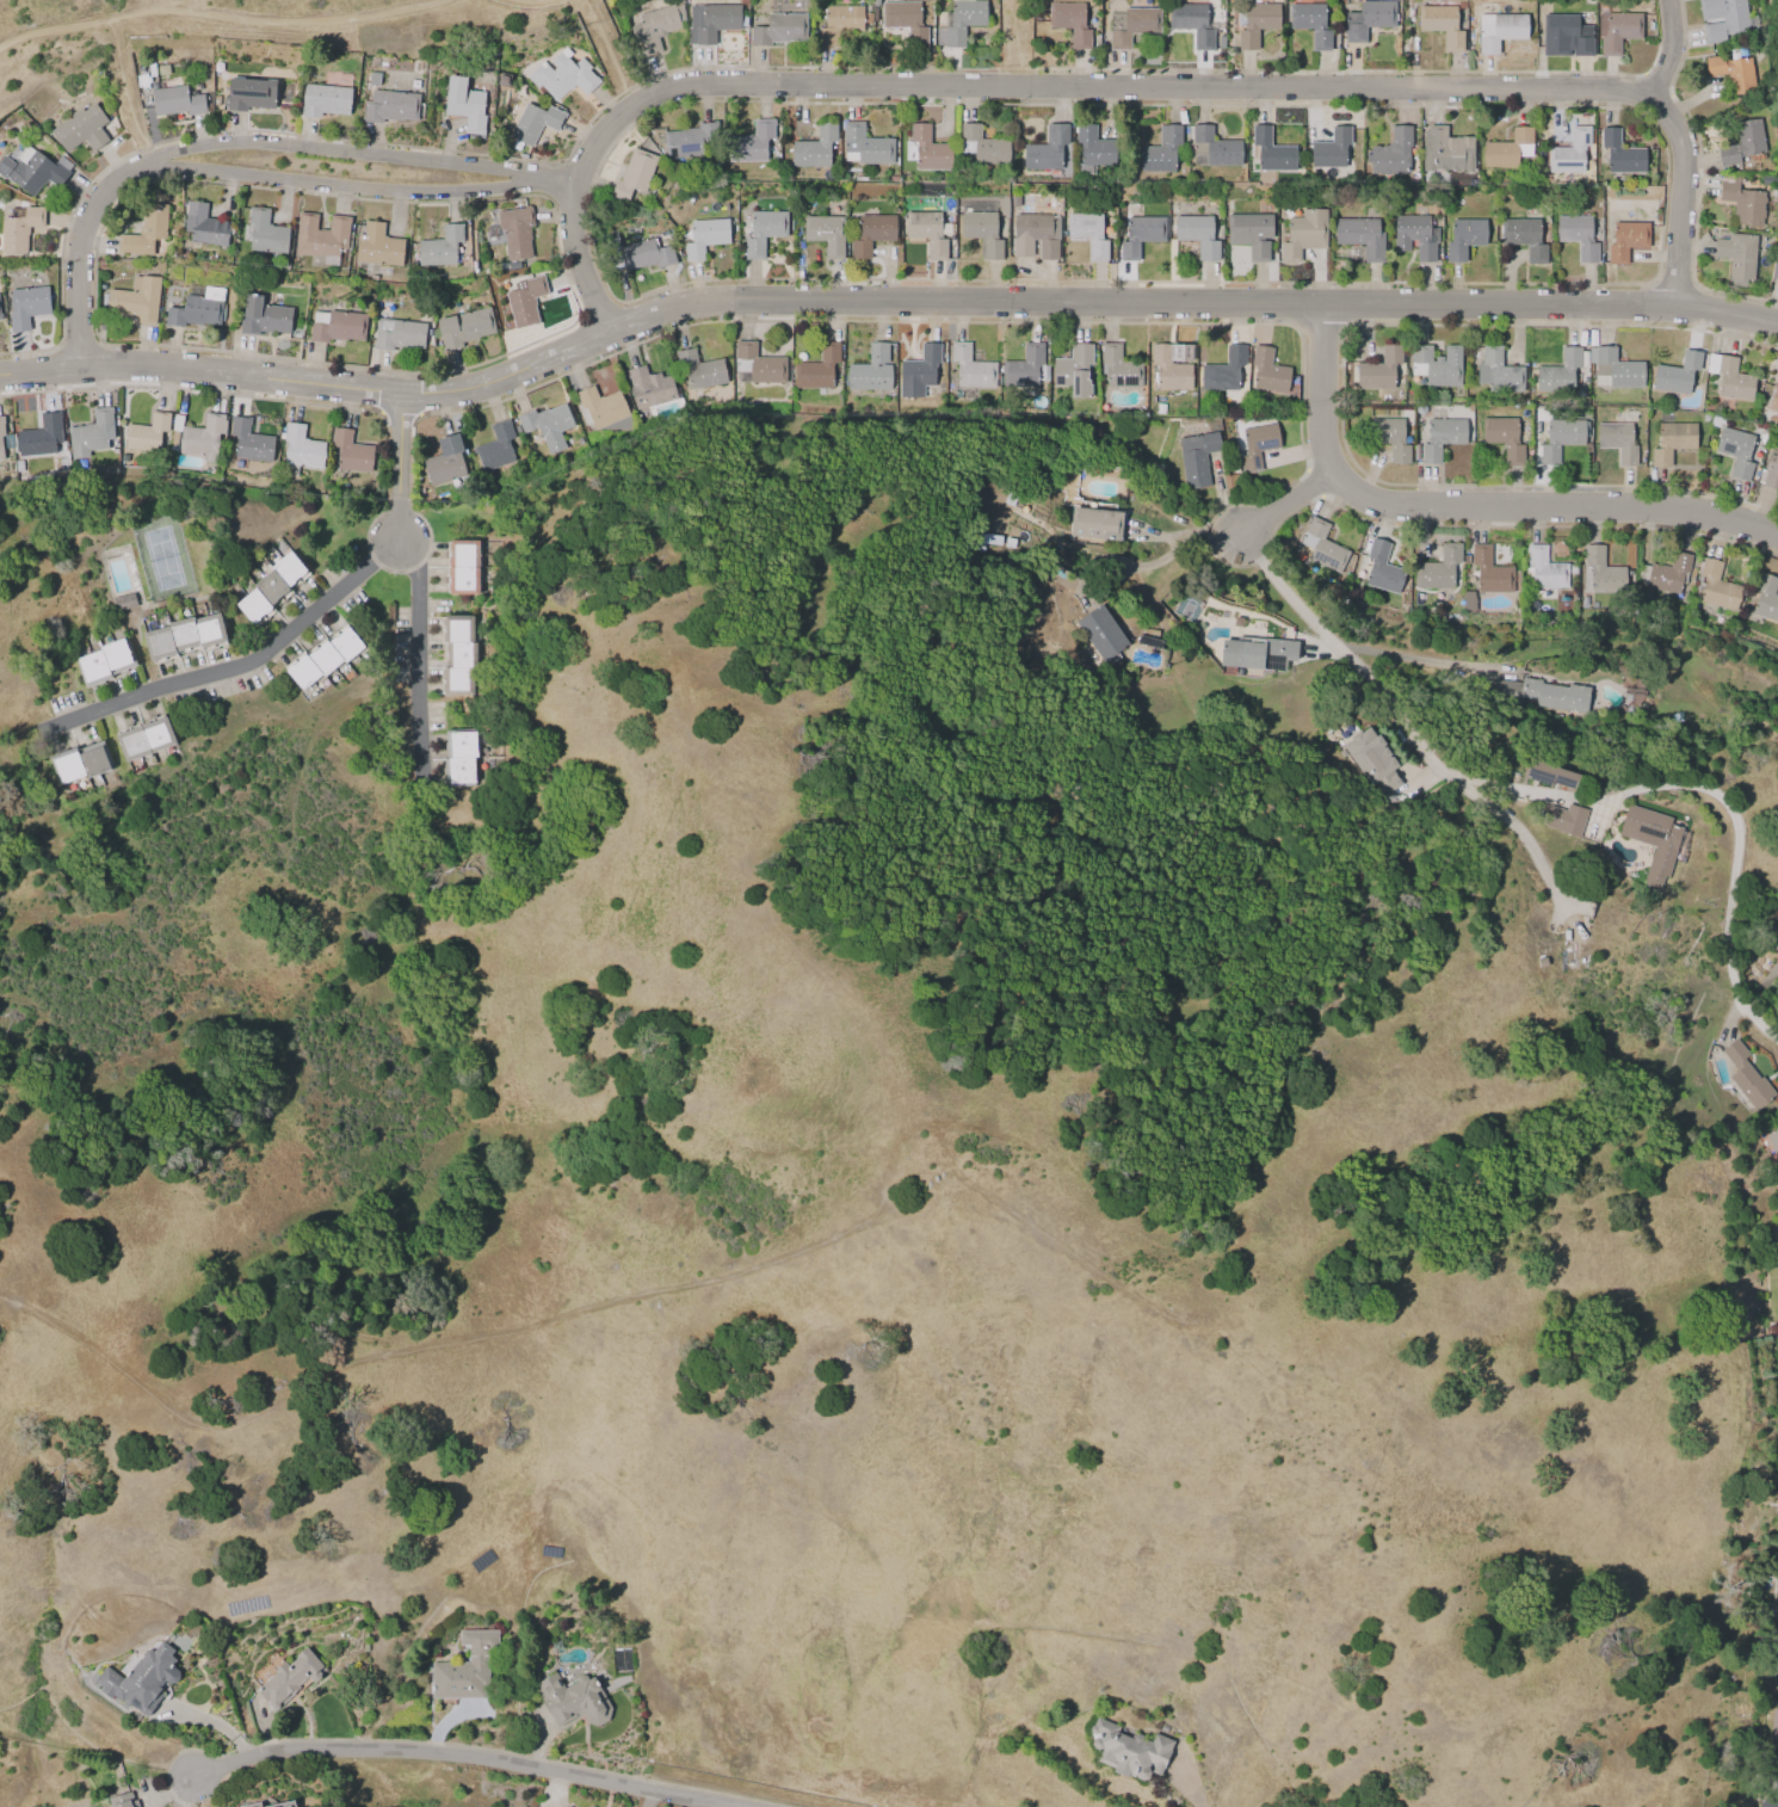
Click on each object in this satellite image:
road: (212, 16)
building: (962, 19)
building: (1368, 19)
building: (1723, 19)
building: (906, 20)
building: (710, 21)
building: (1072, 21)
building: (838, 23)
building: (1313, 23)
park: (181, 24)
building: (1192, 24)
building: (1257, 24)
building: (1131, 25)
building: (1443, 25)
building: (654, 29)
building: (779, 30)
building: (1500, 31)
building: (1616, 32)
building: (1566, 36)
road: (1013, 42)
road: (1668, 47)
road: (609, 51)
building: (1733, 72)
building: (562, 78)
road: (1089, 84)
building: (248, 95)
building: (174, 101)
building: (323, 101)
building: (463, 104)
building: (389, 106)
building: (532, 123)
building: (80, 129)
building: (683, 143)
building: (753, 143)
building: (1743, 143)
building: (981, 146)
building: (865, 147)
building: (815, 148)
building: (1093, 148)
building: (926, 149)
building: (1212, 149)
road: (354, 150)
building: (1048, 150)
building: (1332, 150)
building: (1445, 150)
building: (1508, 150)
building: (1162, 152)
building: (1271, 153)
building: (1391, 154)
building: (1569, 154)
building: (1619, 154)
building: (32, 172)
building: (630, 178)
road: (356, 185)
road: (1680, 192)
building: (1741, 202)
building: (202, 227)
building: (18, 229)
building: (763, 230)
building: (144, 232)
building: (926, 232)
building: (982, 232)
building: (1088, 232)
building: (263, 233)
building: (823, 233)
building: (871, 233)
building: (1197, 233)
building: (1251, 233)
building: (1303, 233)
building: (1035, 234)
building: (1141, 234)
building: (1363, 234)
building: (1578, 234)
building: (516, 235)
building: (1414, 235)
building: (703, 236)
building: (1464, 236)
building: (1524, 236)
building: (320, 238)
building: (1626, 238)
building: (376, 246)
building: (439, 248)
building: (643, 253)
road: (78, 254)
road: (591, 255)
building: (1737, 258)
building: (1777, 278)
road: (881, 300)
building: (134, 303)
building: (524, 303)
building: (25, 307)
building: (198, 310)
building: (263, 317)
building: (0, 319)
building: (337, 328)
building: (464, 328)
building: (399, 337)
building: (758, 365)
building: (1437, 366)
building: (971, 368)
building: (1026, 368)
building: (1119, 369)
building: (700, 370)
building: (819, 370)
building: (873, 370)
building: (1168, 370)
building: (1075, 371)
building: (1381, 371)
building: (1496, 371)
building: (1616, 371)
building: (922, 372)
building: (1224, 372)
building: (1268, 372)
building: (1560, 374)
building: (1678, 374)
building: (1730, 378)
building: (650, 389)
building: (1772, 400)
building: (603, 408)
building: (548, 421)
building: (93, 436)
building: (149, 436)
building: (1504, 437)
building: (42, 438)
building: (203, 438)
building: (1389, 438)
building: (1441, 438)
building: (1558, 439)
building: (1, 442)
building: (1672, 442)
building: (248, 443)
building: (1620, 443)
building: (1258, 445)
building: (301, 449)
building: (498, 450)
building: (1737, 451)
building: (348, 454)
building: (1197, 460)
building: (445, 462)
building: (1771, 471)
road: (1467, 504)
road: (1285, 506)
building: (1095, 525)
building: (1322, 548)
road: (1183, 549)
building: (463, 568)
building: (1382, 569)
building: (1545, 571)
building: (1603, 571)
building: (1440, 572)
building: (1489, 573)
building: (1667, 575)
road: (424, 582)
building: (1716, 588)
building: (267, 590)
building: (1765, 599)
building: (124, 602)
building: (1101, 633)
building: (180, 637)
building: (456, 655)
building: (1257, 655)
road: (1412, 658)
building: (322, 660)
building: (103, 664)
road: (242, 666)
building: (1542, 696)
road: (1397, 728)
building: (144, 740)
building: (463, 759)
building: (1372, 759)
building: (81, 764)
building: (1548, 777)
building: (1562, 820)
building: (1647, 841)
road: (1734, 865)
building: (1746, 1077)
building: (1773, 1141)
road: (100, 1358)
building: (1776, 1605)
building: (464, 1667)
building: (1777, 1667)
building: (289, 1678)
building: (141, 1679)
building: (574, 1700)
building: (1773, 1729)
road: (84, 1741)
building: (1129, 1750)
road: (456, 1757)
road: (1193, 1787)
road: (185, 1794)
road: (643, 1799)
building: (123, 1801)
building: (1767, 1802)
building: (286, 1803)
building: (252, 1805)
building: (568, 1806)

